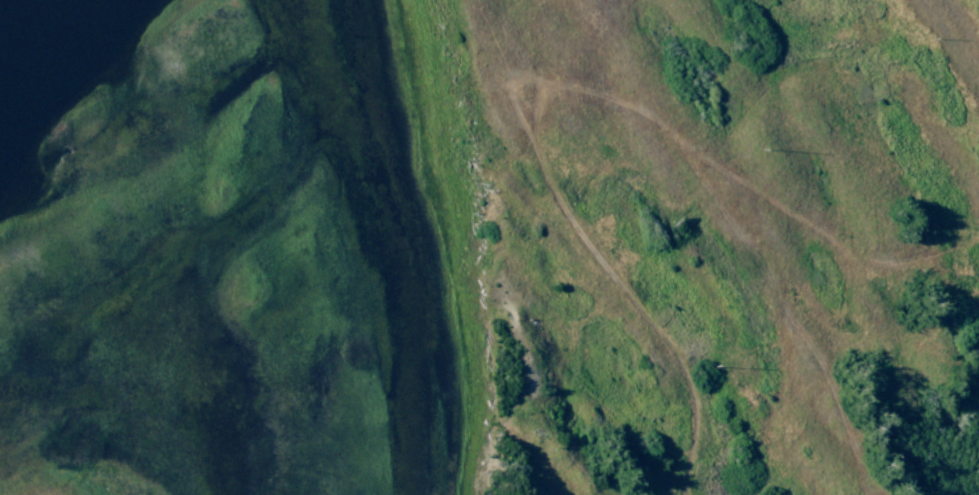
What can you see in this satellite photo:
road: (519, 73)
road: (635, 308)

